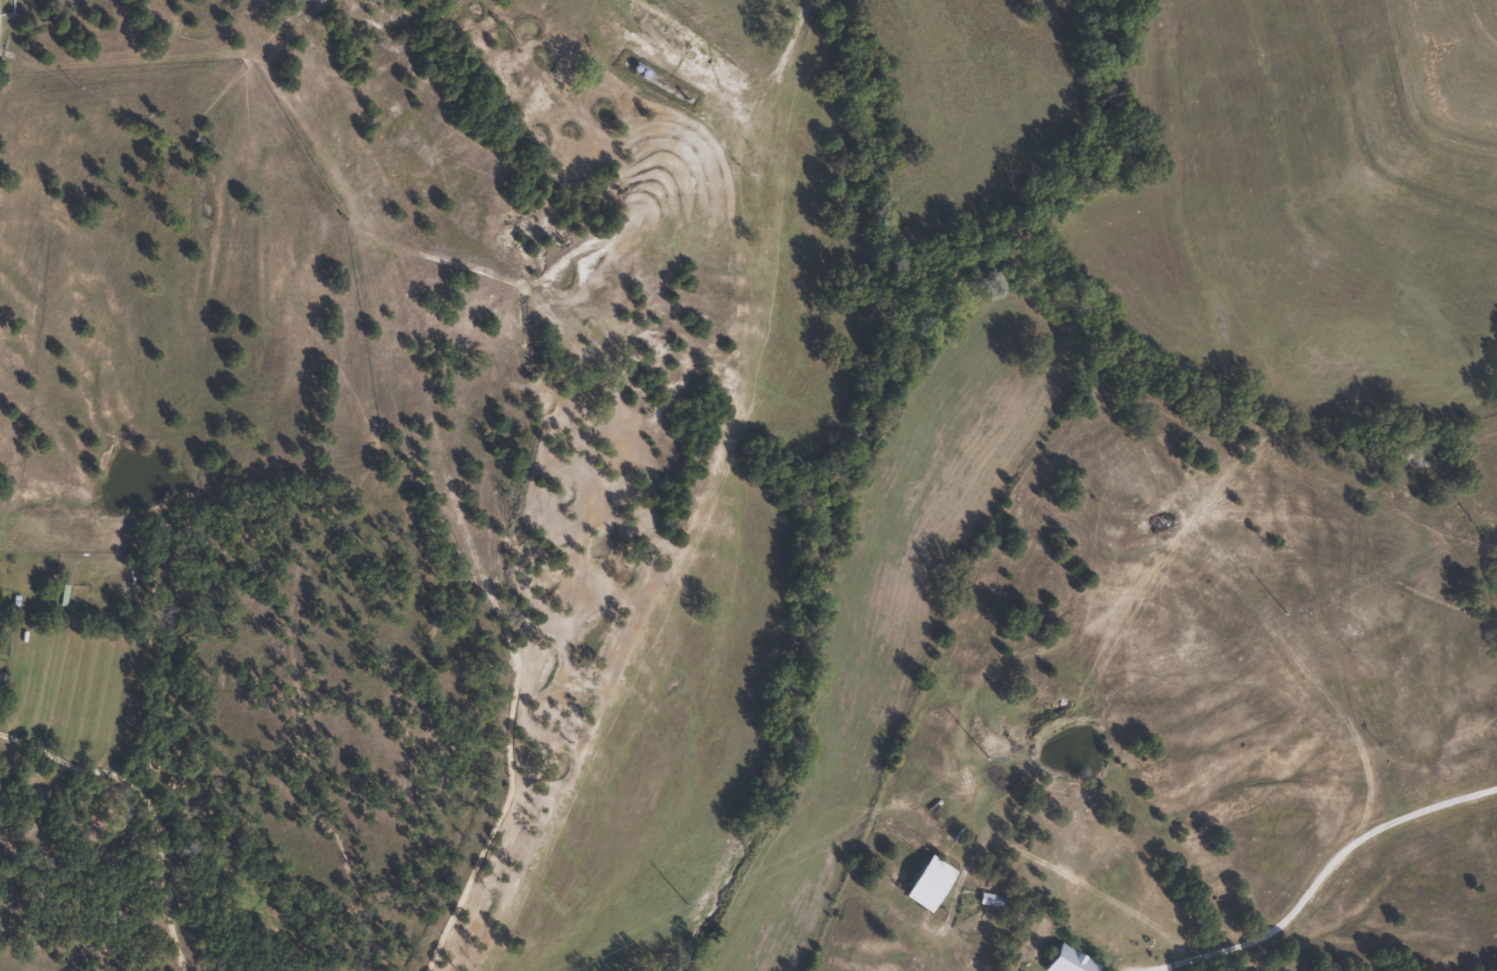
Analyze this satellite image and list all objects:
road: (1, 32)
power tower: (1283, 613)
power tower: (985, 757)
building: (925, 884)
building: (988, 900)
power tower: (683, 903)
building: (1064, 961)

